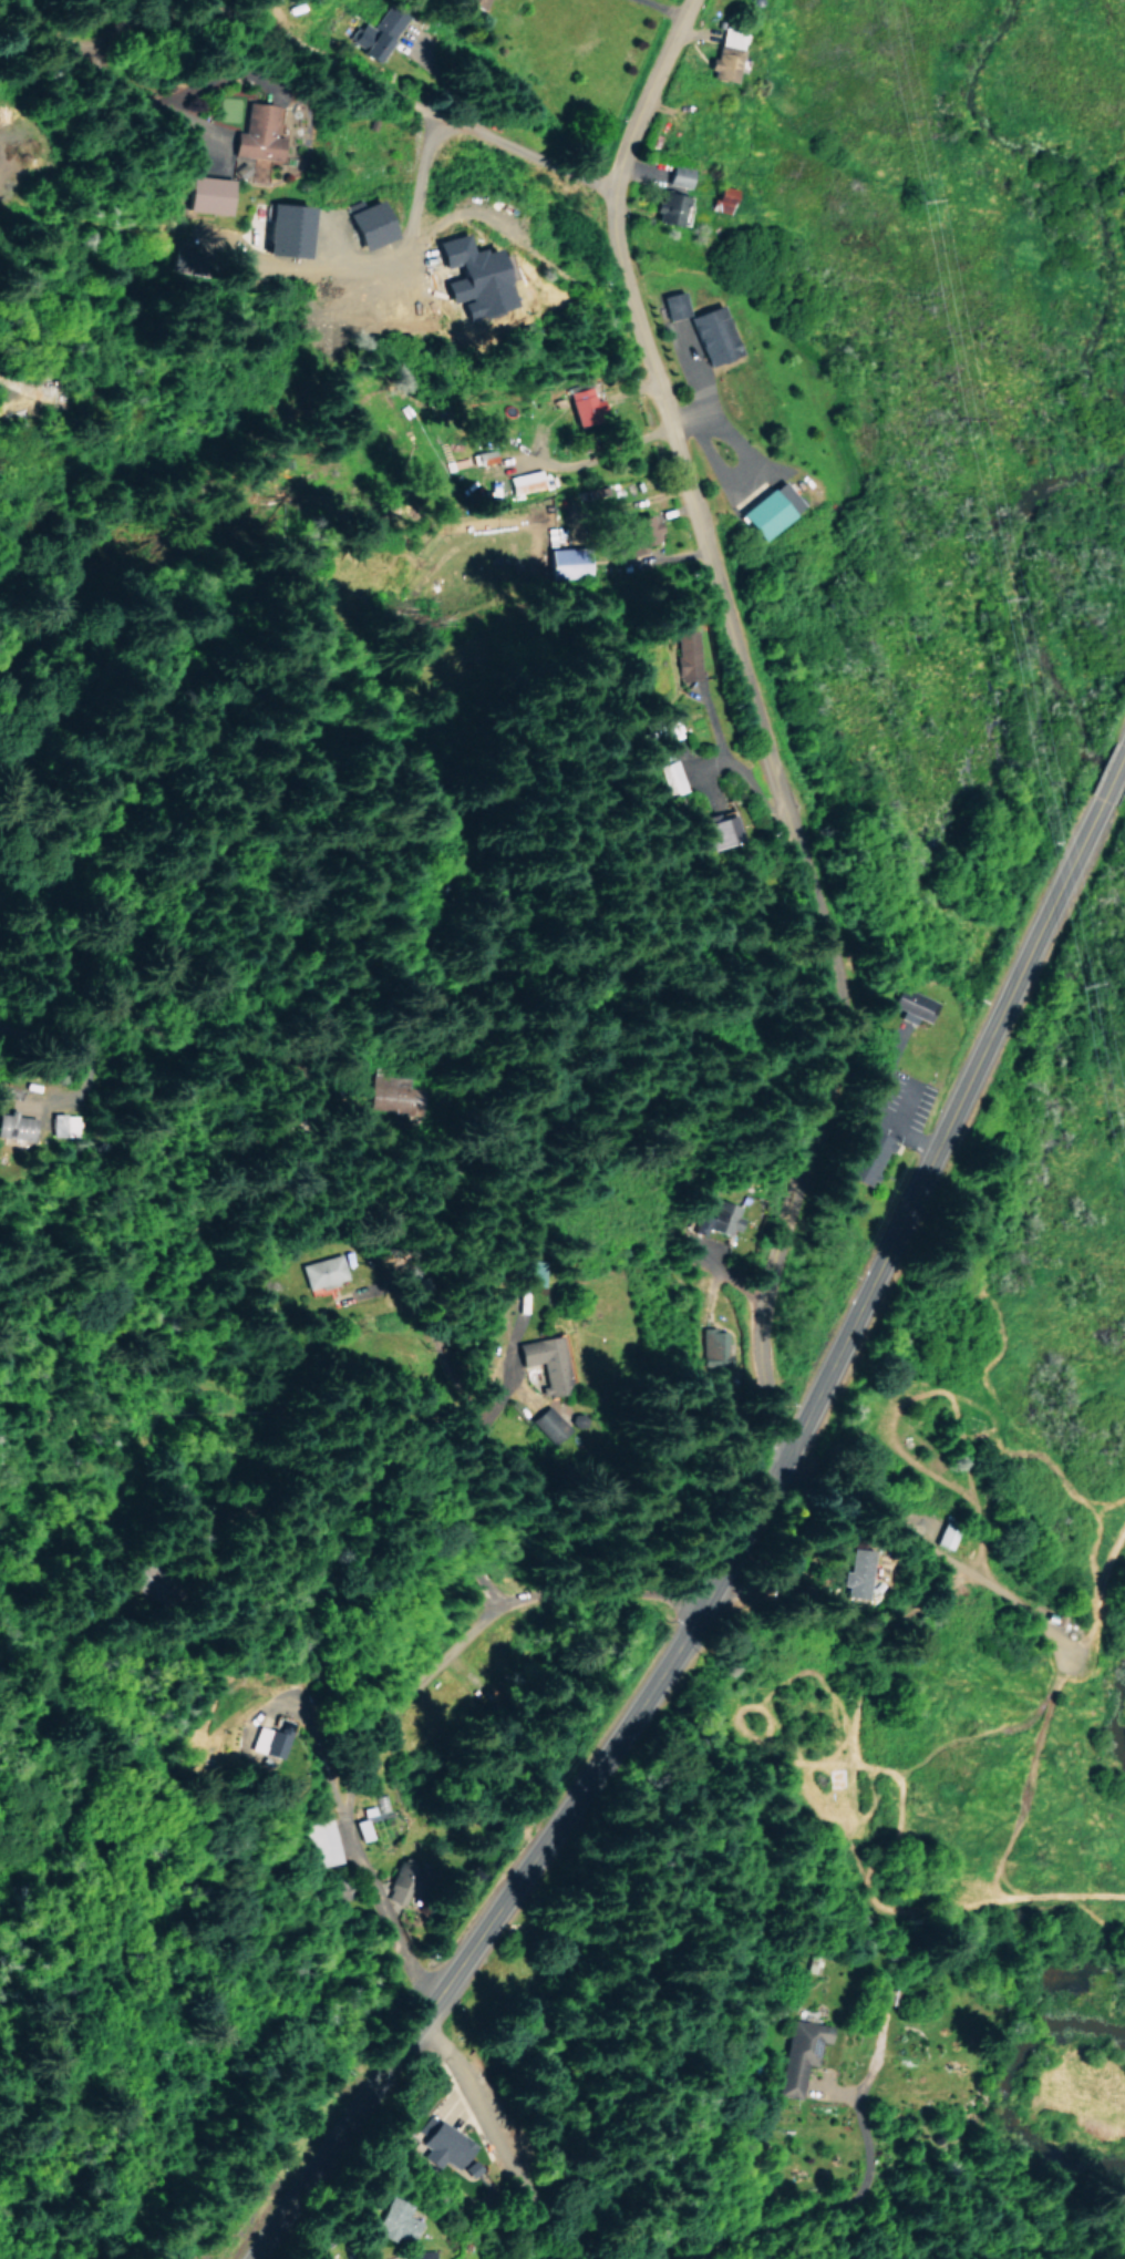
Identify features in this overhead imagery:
building: (474, 2)
road: (649, 11)
building: (375, 33)
building: (725, 53)
road: (436, 110)
building: (255, 136)
road: (420, 175)
building: (677, 175)
building: (207, 194)
building: (720, 198)
building: (667, 207)
road: (479, 213)
building: (364, 223)
building: (281, 229)
building: (468, 276)
building: (672, 304)
building: (712, 333)
building: (582, 404)
building: (482, 455)
building: (524, 481)
building: (768, 509)
building: (638, 533)
building: (566, 562)
building: (681, 654)
road: (756, 713)
building: (653, 745)
building: (668, 777)
road: (1113, 778)
building: (714, 829)
building: (911, 1005)
building: (389, 1095)
building: (55, 1125)
building: (13, 1127)
building: (864, 1157)
building: (716, 1216)
building: (322, 1271)
building: (525, 1272)
building: (713, 1346)
building: (541, 1363)
road: (406, 1386)
building: (545, 1424)
building: (941, 1534)
road: (725, 1559)
building: (844, 1572)
road: (342, 1677)
building: (256, 1734)
building: (360, 1828)
building: (323, 1841)
building: (342, 1888)
building: (798, 2053)
building: (442, 2145)
building: (467, 2167)
building: (380, 2217)
building: (410, 2252)

